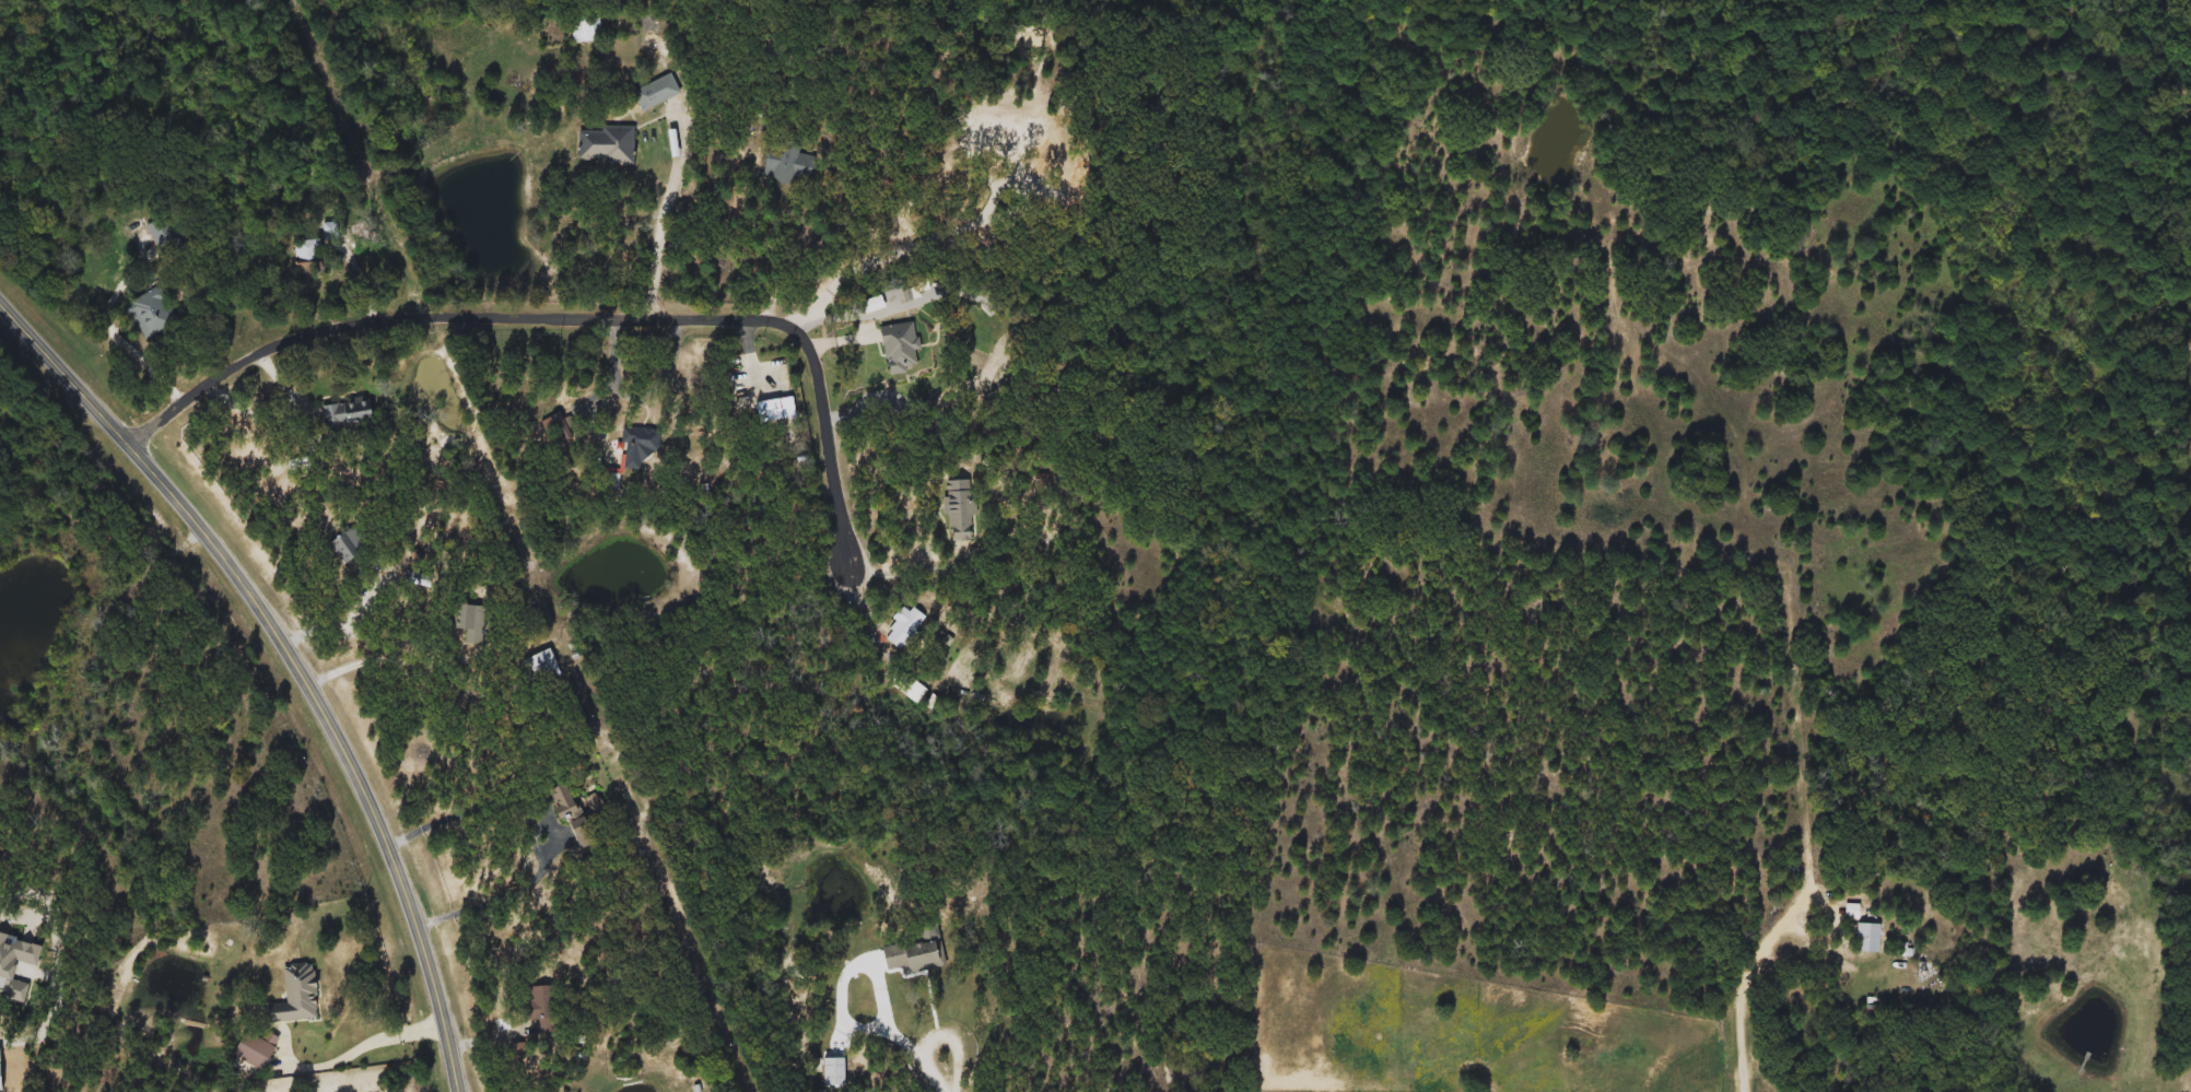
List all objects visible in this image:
building: (585, 28)
building: (656, 93)
building: (606, 146)
building: (787, 165)
road: (664, 213)
building: (163, 235)
road: (769, 248)
road: (370, 286)
building: (871, 305)
building: (153, 314)
road: (555, 316)
building: (899, 347)
road: (151, 361)
road: (611, 386)
road: (256, 408)
building: (349, 413)
building: (641, 446)
building: (959, 510)
road: (886, 573)
road: (341, 622)
building: (471, 623)
road: (383, 655)
road: (296, 657)
building: (539, 665)
road: (469, 812)
road: (516, 893)
building: (1868, 938)
road: (934, 946)
building: (909, 958)
road: (1746, 987)
building: (534, 1002)
road: (355, 1054)
building: (827, 1071)

